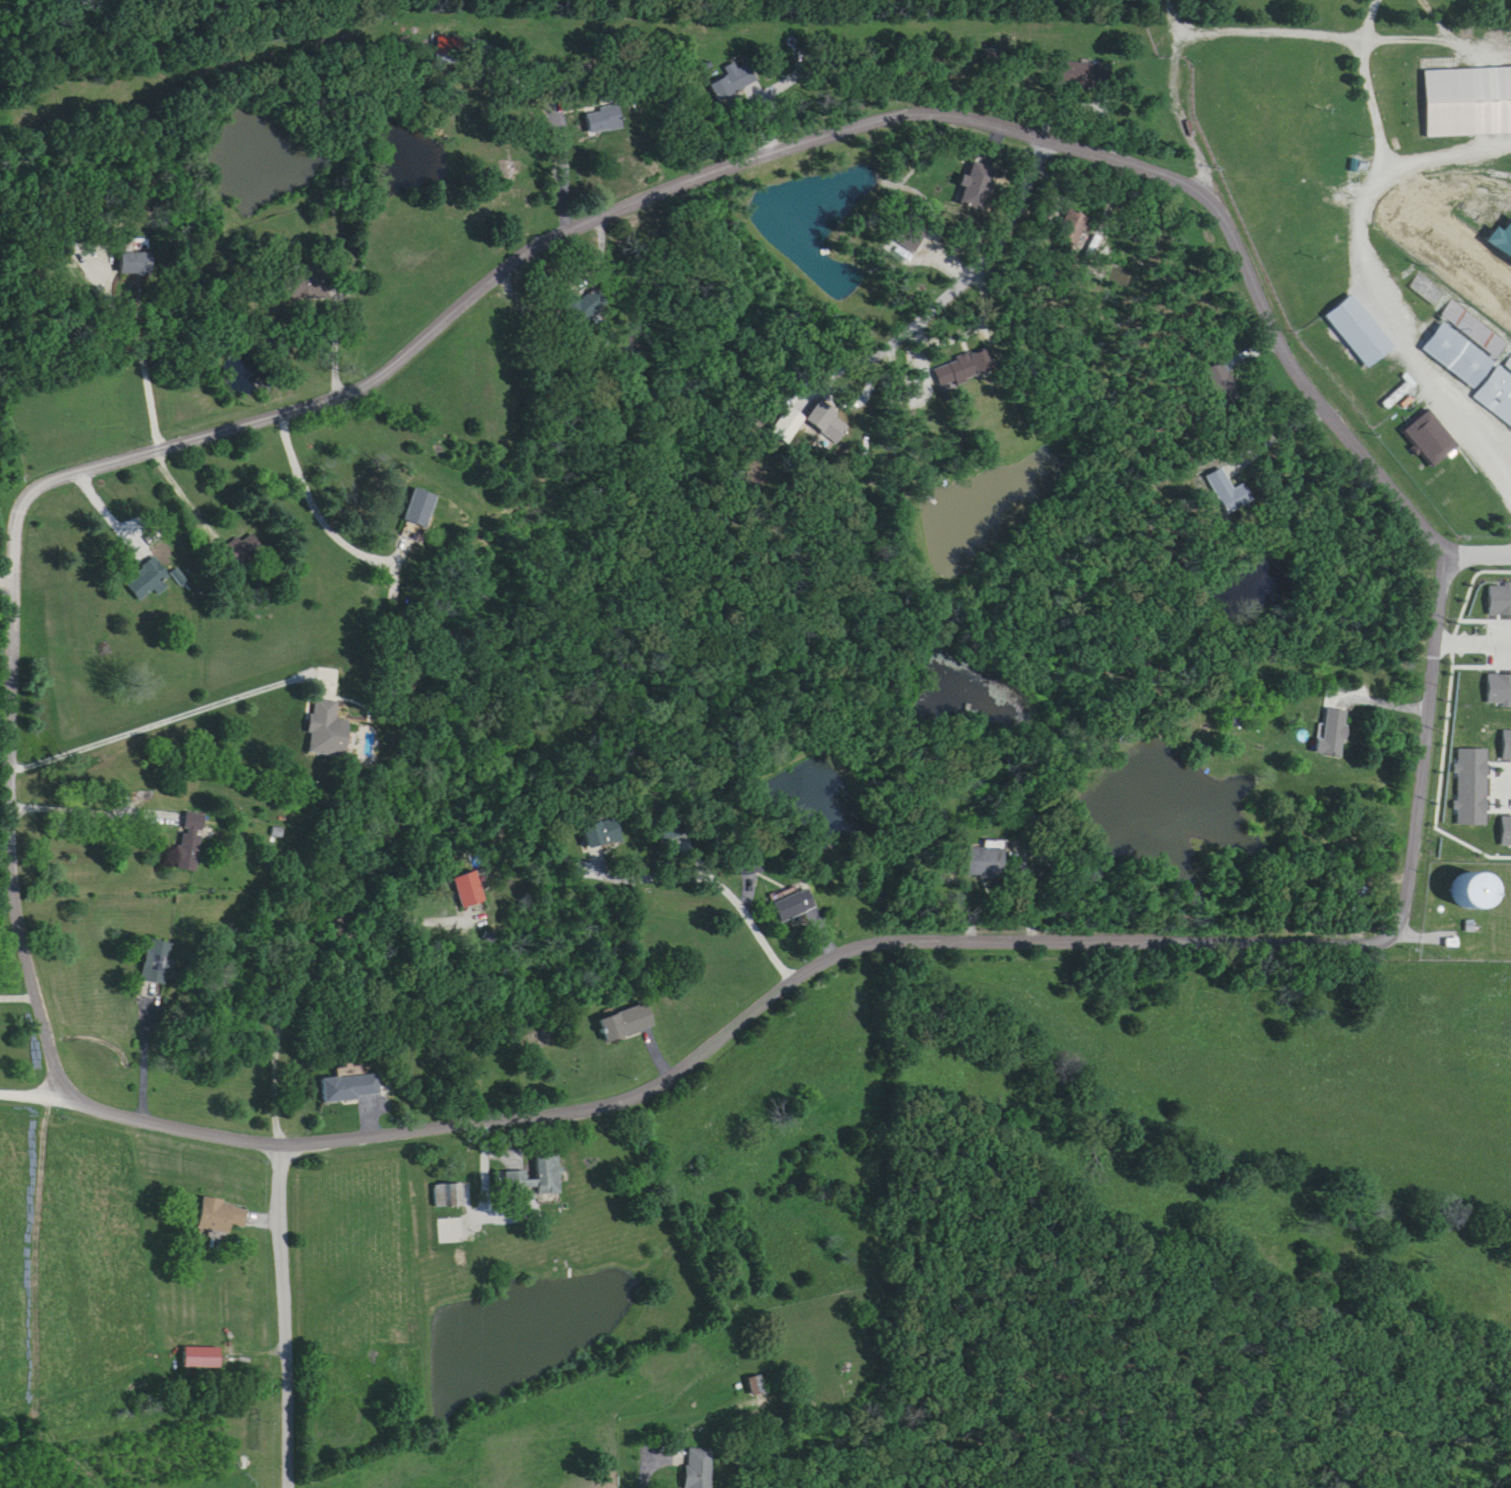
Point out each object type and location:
road: (1176, 25)
road: (1269, 34)
building: (444, 50)
building: (733, 82)
road: (1366, 84)
building: (1469, 102)
building: (604, 120)
building: (1346, 142)
road: (568, 184)
building: (973, 186)
building: (1073, 229)
building: (1502, 241)
building: (136, 264)
road: (1357, 265)
building: (304, 287)
building: (1461, 318)
building: (1360, 333)
road: (336, 343)
road: (923, 345)
road: (416, 347)
building: (964, 370)
road: (842, 371)
building: (1474, 372)
building: (1395, 398)
road: (153, 421)
building: (828, 423)
building: (788, 426)
road: (1275, 438)
building: (1431, 439)
building: (1227, 492)
building: (421, 516)
road: (325, 518)
road: (118, 522)
building: (242, 553)
road: (1479, 555)
road: (7, 580)
building: (149, 581)
building: (1477, 587)
road: (1474, 640)
road: (166, 723)
building: (328, 733)
building: (1333, 733)
road: (94, 811)
building: (602, 835)
building: (190, 843)
building: (987, 864)
road: (1026, 884)
building: (469, 892)
road: (724, 892)
building: (1476, 893)
building: (795, 907)
building: (157, 965)
road: (290, 990)
building: (628, 1025)
road: (143, 1059)
building: (351, 1088)
road: (37, 1095)
road: (1202, 1103)
road: (485, 1139)
building: (539, 1178)
building: (449, 1196)
road: (491, 1214)
building: (222, 1216)
road: (220, 1314)
road: (285, 1315)
building: (203, 1358)
road: (657, 1466)
building: (700, 1468)

